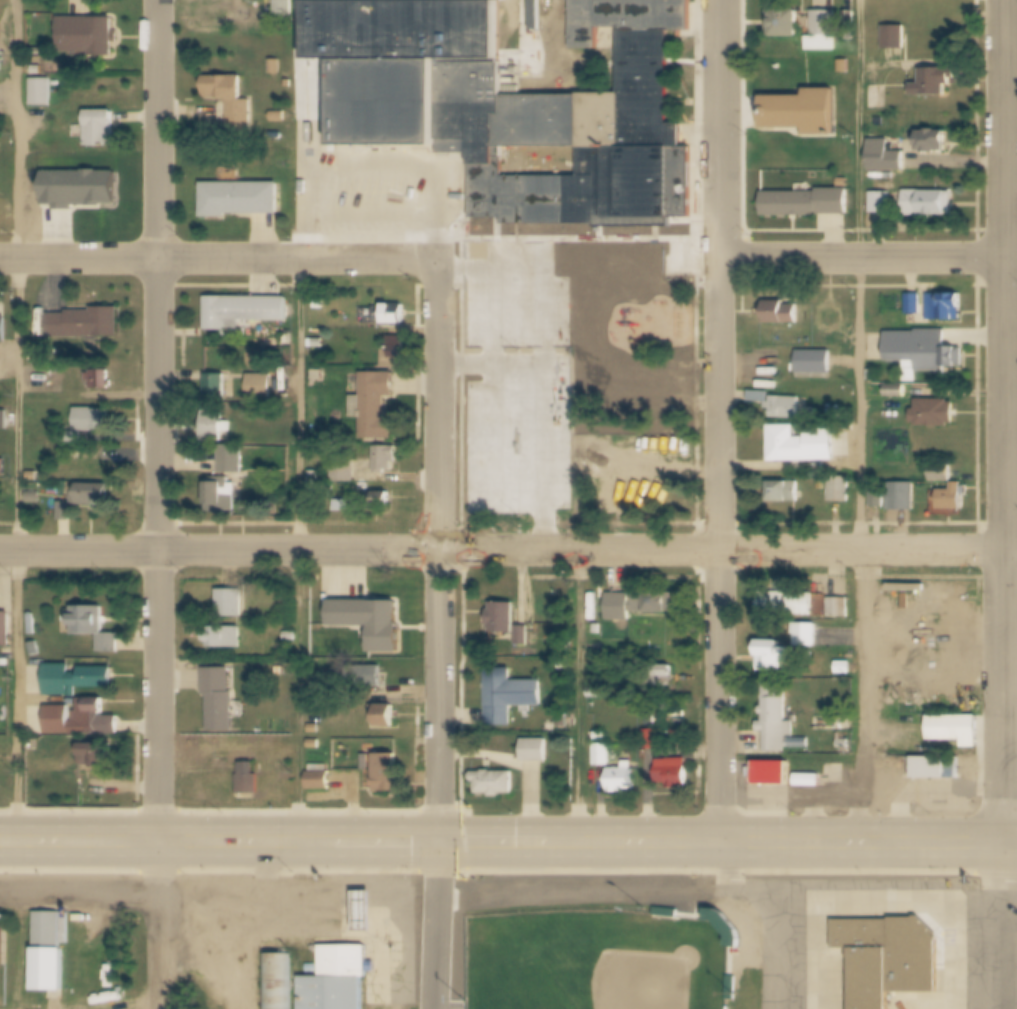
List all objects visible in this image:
building: (285, 6)
parking lot: (218, 15)
building: (204, 17)
building: (851, 20)
building: (786, 24)
building: (825, 33)
building: (895, 38)
building: (88, 39)
building: (1, 63)
building: (276, 68)
building: (846, 68)
building: (934, 84)
building: (44, 95)
building: (232, 102)
building: (512, 105)
building: (803, 115)
building: (278, 117)
road: (437, 119)
road: (298, 130)
building: (101, 132)
building: (0, 143)
building: (933, 143)
building: (886, 157)
building: (844, 183)
building: (354, 189)
building: (85, 195)
building: (241, 201)
building: (882, 203)
building: (35, 204)
building: (807, 204)
building: (929, 204)
road: (508, 259)
building: (916, 303)
building: (320, 304)
building: (946, 309)
building: (492, 310)
building: (782, 311)
building: (245, 312)
building: (652, 315)
building: (828, 315)
building: (395, 317)
building: (87, 324)
building: (3, 330)
building: (517, 338)
building: (286, 339)
building: (317, 343)
building: (925, 350)
building: (397, 352)
building: (816, 364)
building: (319, 375)
building: (102, 380)
building: (488, 381)
building: (647, 385)
building: (217, 387)
building: (261, 387)
building: (897, 389)
building: (760, 398)
road: (298, 406)
building: (376, 407)
building: (786, 408)
building: (935, 414)
building: (4, 419)
building: (95, 421)
road: (9, 422)
road: (155, 422)
road: (1004, 422)
building: (216, 423)
road: (720, 423)
road: (859, 423)
building: (802, 447)
building: (633, 457)
building: (231, 458)
building: (386, 459)
building: (3, 467)
building: (35, 476)
building: (345, 477)
building: (317, 478)
building: (483, 489)
building: (638, 491)
building: (841, 491)
building: (784, 494)
building: (95, 495)
building: (33, 496)
building: (223, 496)
building: (902, 497)
building: (383, 498)
building: (952, 500)
building: (67, 512)
road: (508, 550)
road: (440, 553)
building: (639, 604)
building: (232, 605)
building: (787, 605)
building: (840, 609)
building: (504, 619)
building: (371, 623)
building: (94, 628)
building: (6, 630)
building: (598, 630)
building: (525, 636)
building: (292, 637)
building: (809, 637)
building: (227, 639)
building: (774, 659)
building: (845, 668)
building: (371, 677)
building: (658, 677)
building: (78, 680)
building: (596, 693)
building: (510, 697)
building: (221, 701)
building: (383, 716)
road: (1011, 716)
building: (83, 721)
building: (779, 723)
building: (316, 730)
building: (956, 731)
building: (602, 738)
building: (651, 740)
building: (316, 744)
building: (846, 745)
building: (536, 752)
building: (604, 756)
building: (96, 757)
building: (938, 772)
building: (674, 774)
building: (388, 775)
building: (773, 778)
building: (249, 780)
building: (623, 781)
building: (321, 782)
building: (495, 784)
road: (1011, 844)
road: (502, 846)
road: (1011, 847)
road: (373, 897)
road: (1010, 902)
building: (366, 917)
road: (154, 927)
road: (444, 927)
road: (1002, 927)
building: (739, 933)
road: (785, 939)
building: (6, 945)
building: (50, 956)
park: (601, 960)
building: (890, 960)
road: (193, 979)
building: (280, 981)
building: (339, 981)

